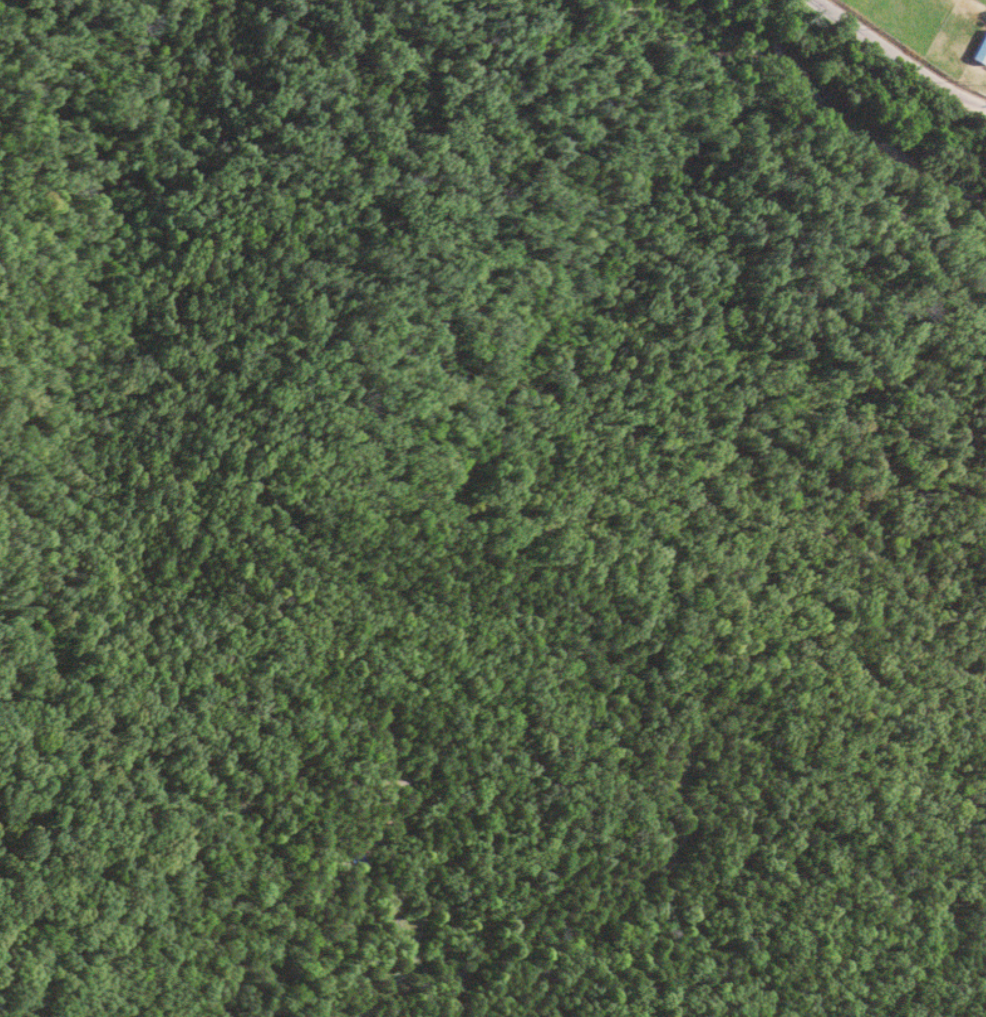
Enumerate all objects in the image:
road: (903, 55)

